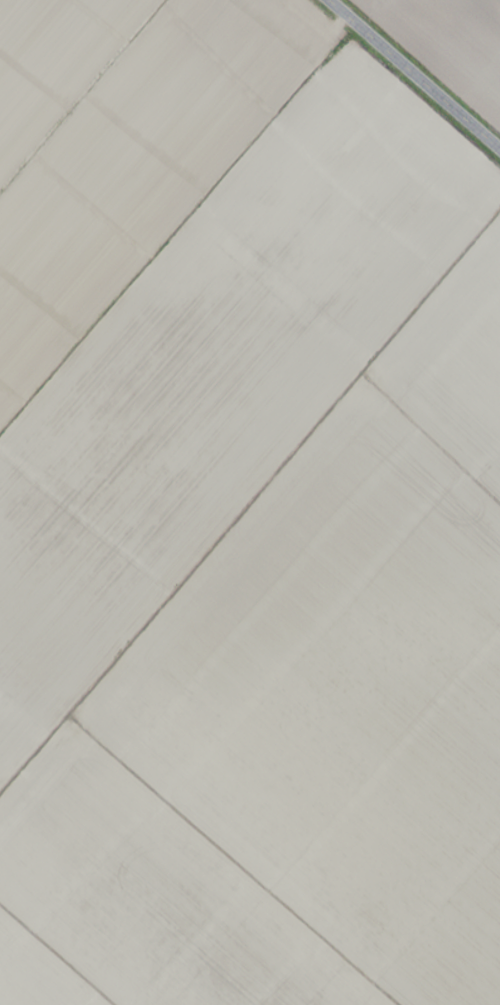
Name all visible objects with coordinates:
road: (412, 74)
road: (130, 90)

